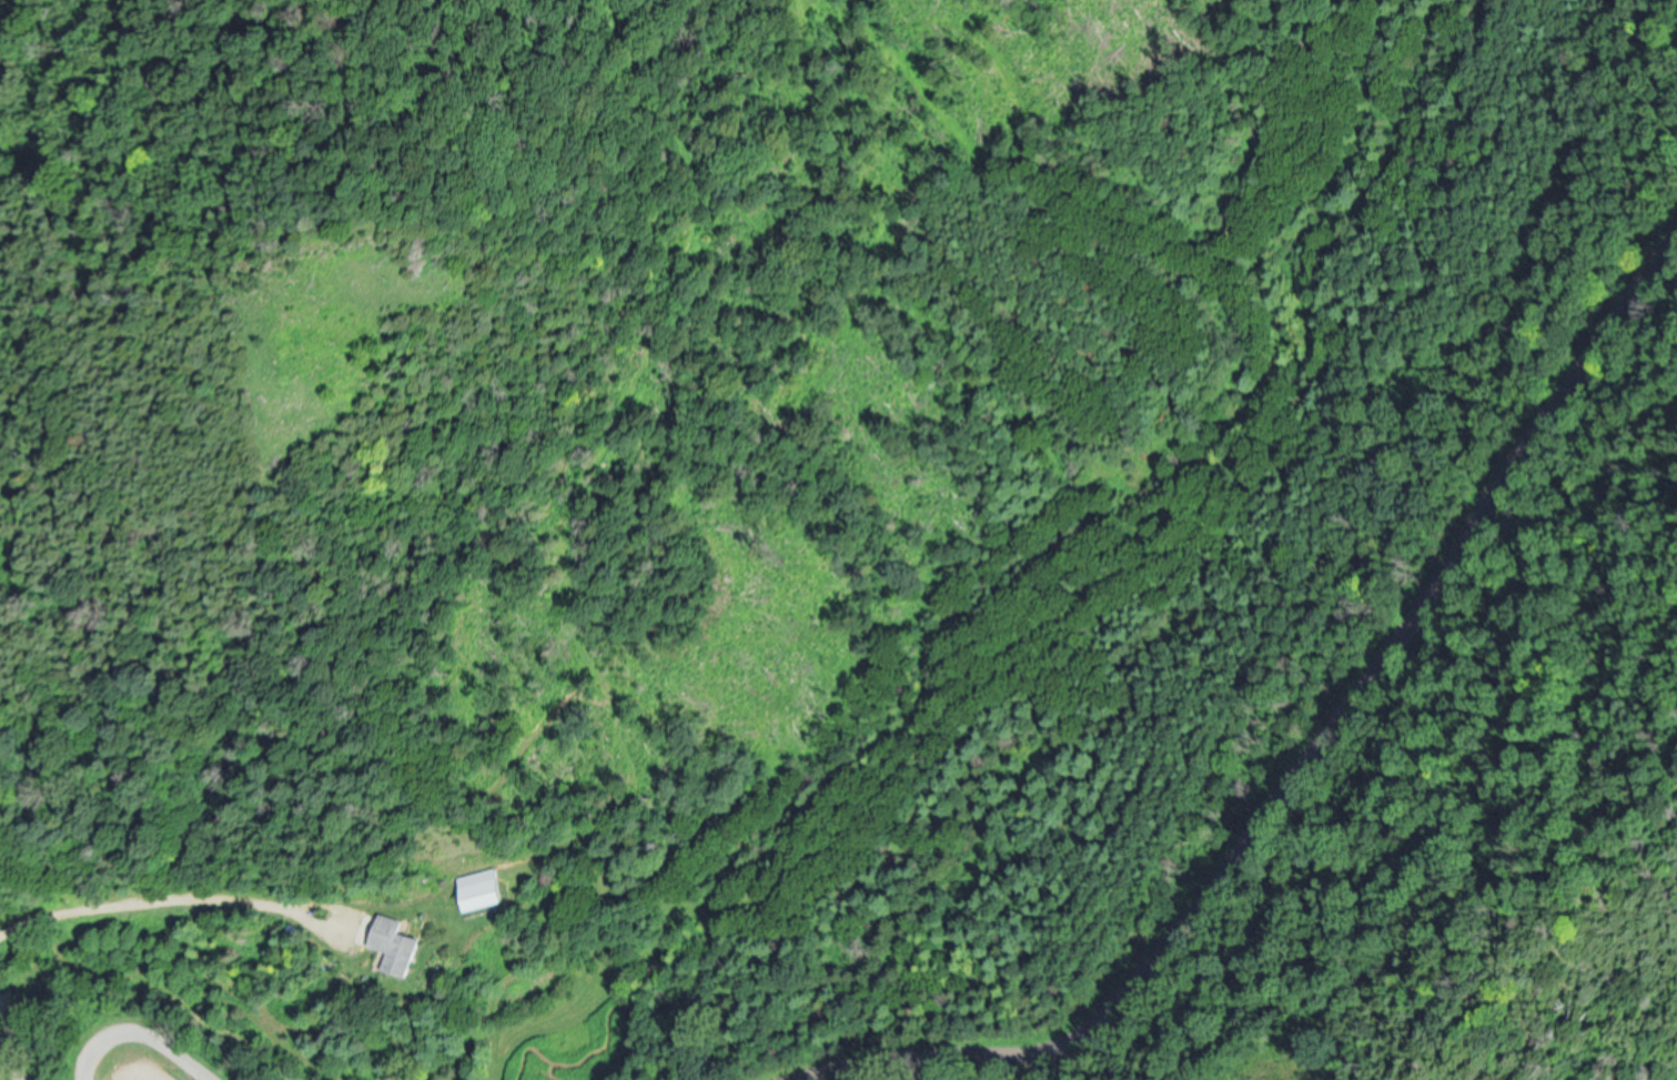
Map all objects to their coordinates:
road: (1303, 755)
building: (479, 888)
road: (135, 905)
road: (336, 918)
building: (395, 945)
road: (141, 1032)

